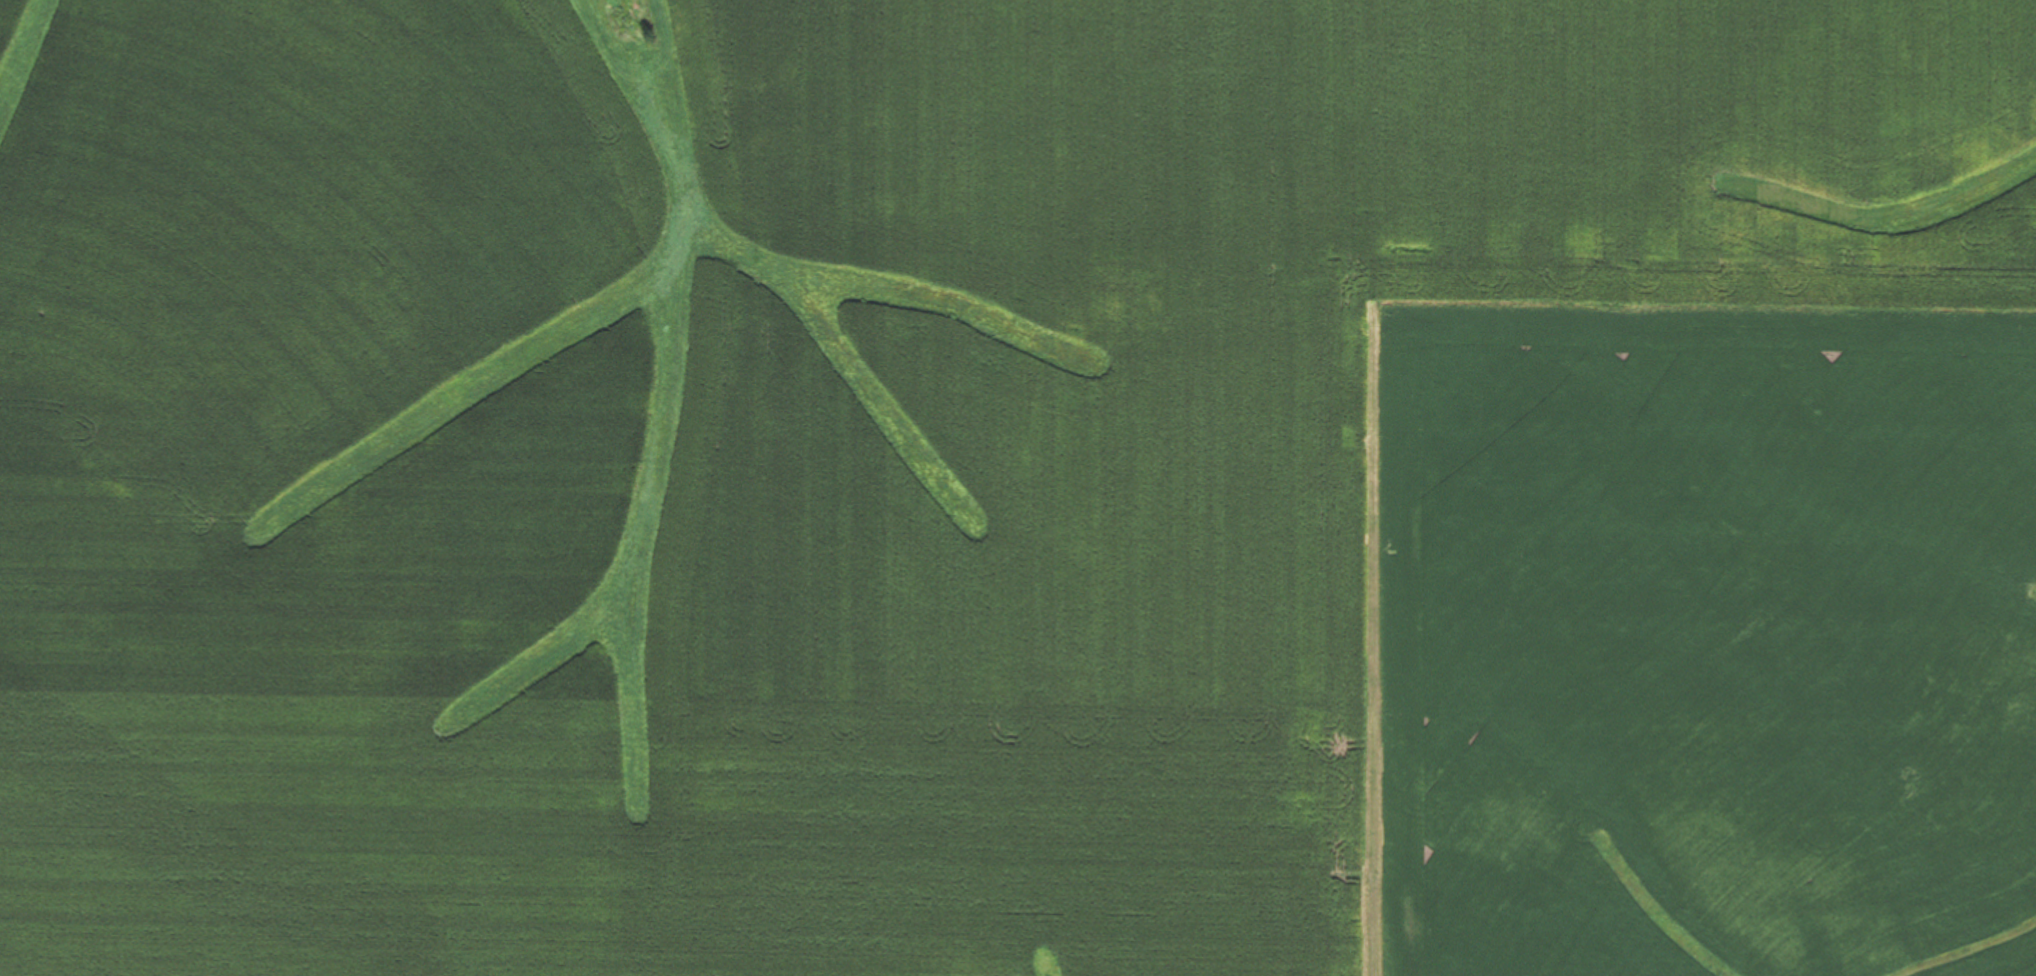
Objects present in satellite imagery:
road: (1370, 652)

